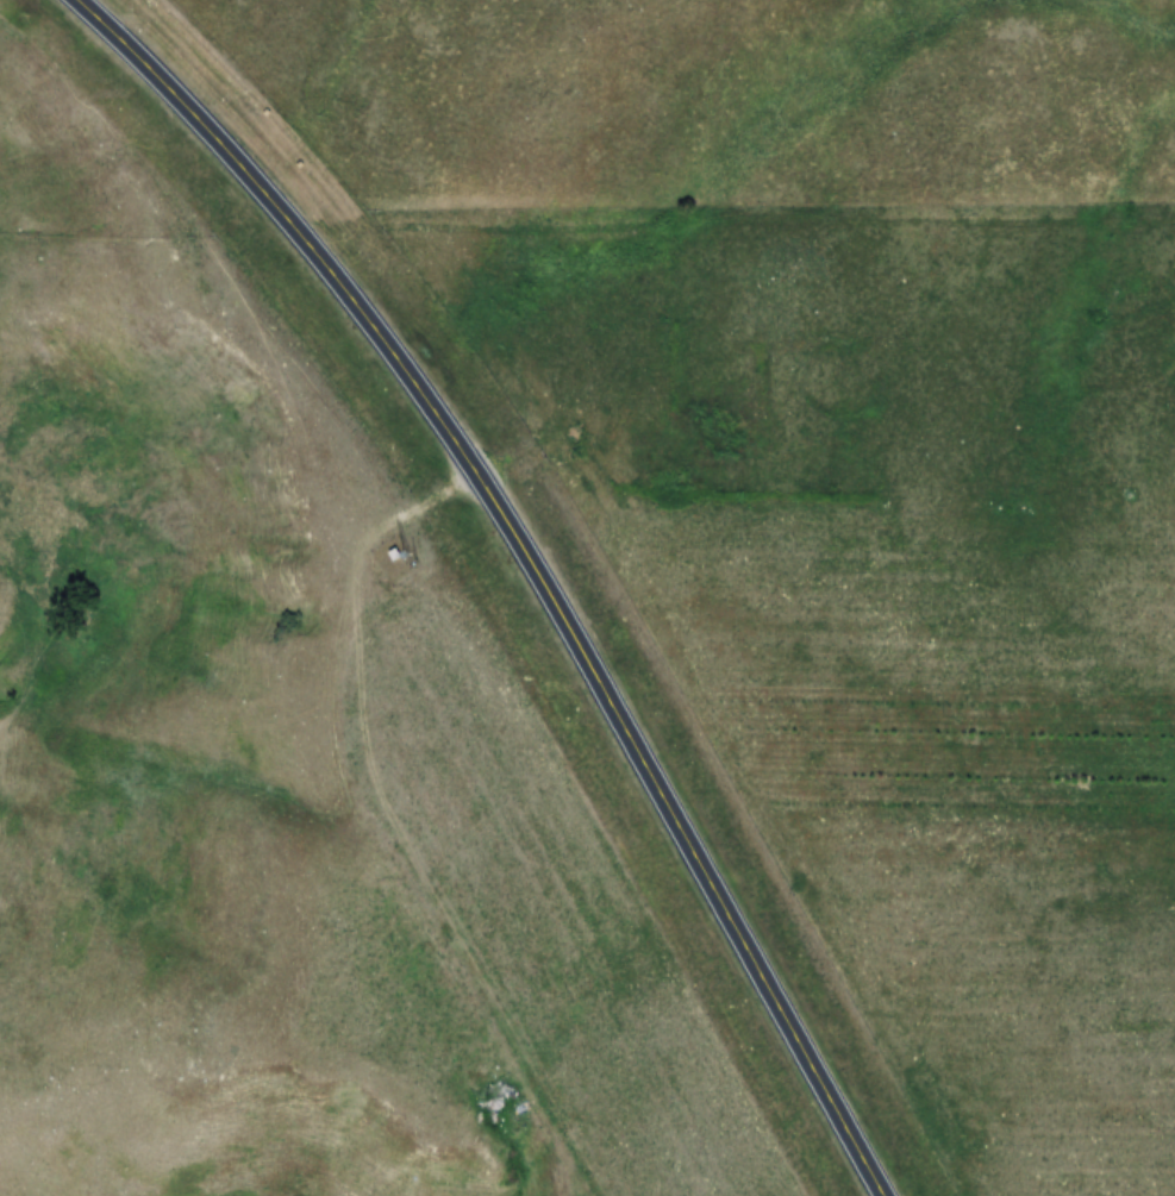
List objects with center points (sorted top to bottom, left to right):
road: (521, 562)

